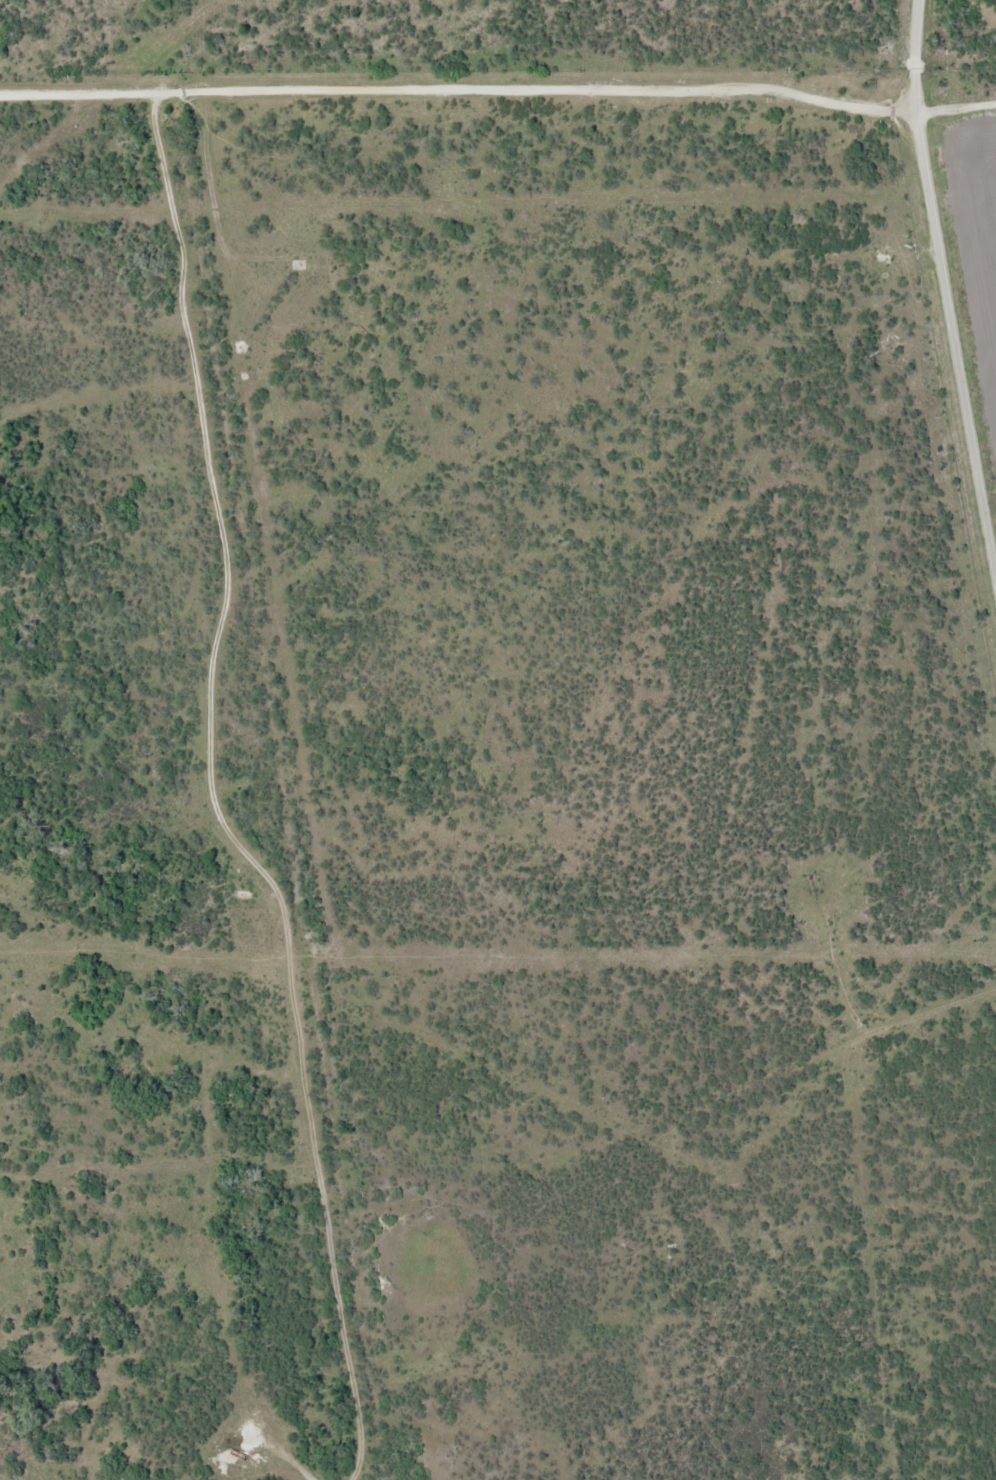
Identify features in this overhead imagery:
road: (452, 93)
road: (950, 100)
road: (948, 266)

